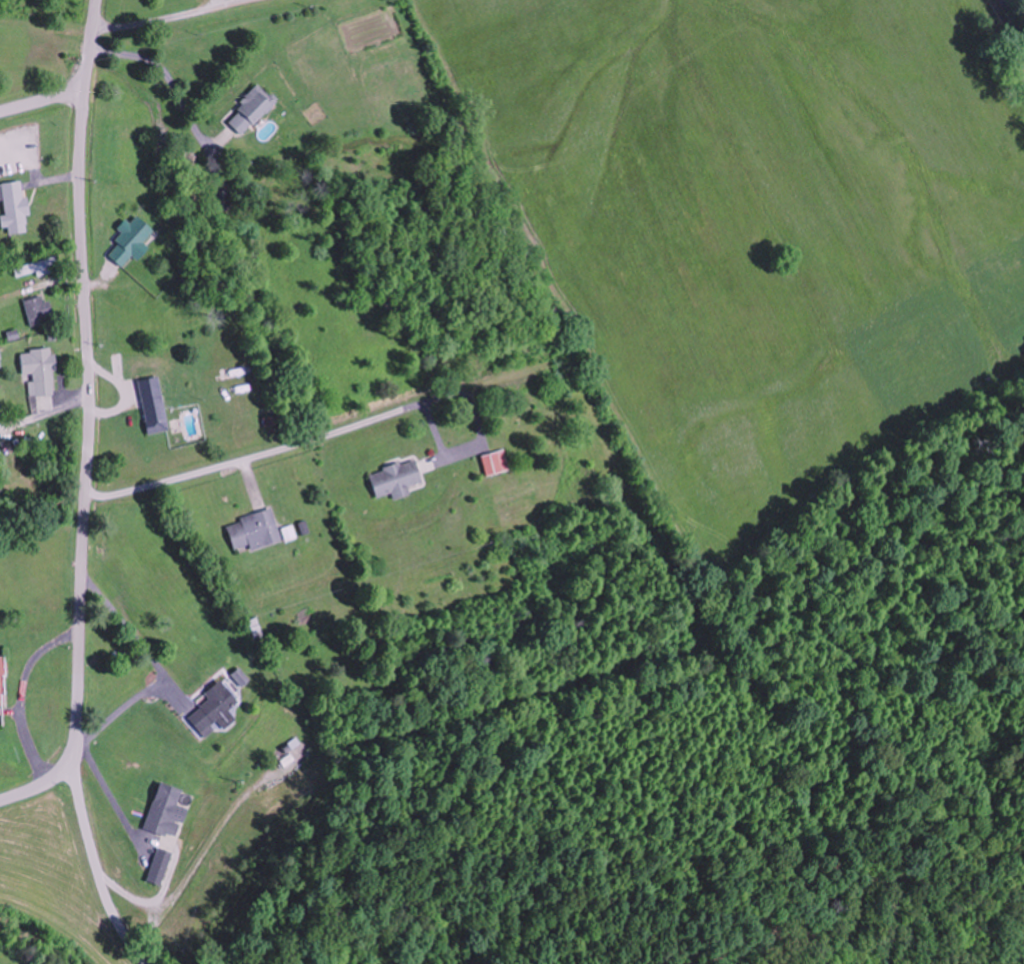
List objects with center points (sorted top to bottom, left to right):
road: (1014, 17)
road: (40, 106)
building: (251, 110)
building: (222, 200)
building: (15, 208)
building: (35, 268)
building: (38, 311)
building: (41, 375)
building: (156, 414)
road: (86, 422)
building: (496, 463)
building: (396, 480)
building: (1, 490)
building: (254, 531)
building: (1, 683)
building: (214, 710)
building: (168, 811)
road: (94, 856)
building: (159, 866)

